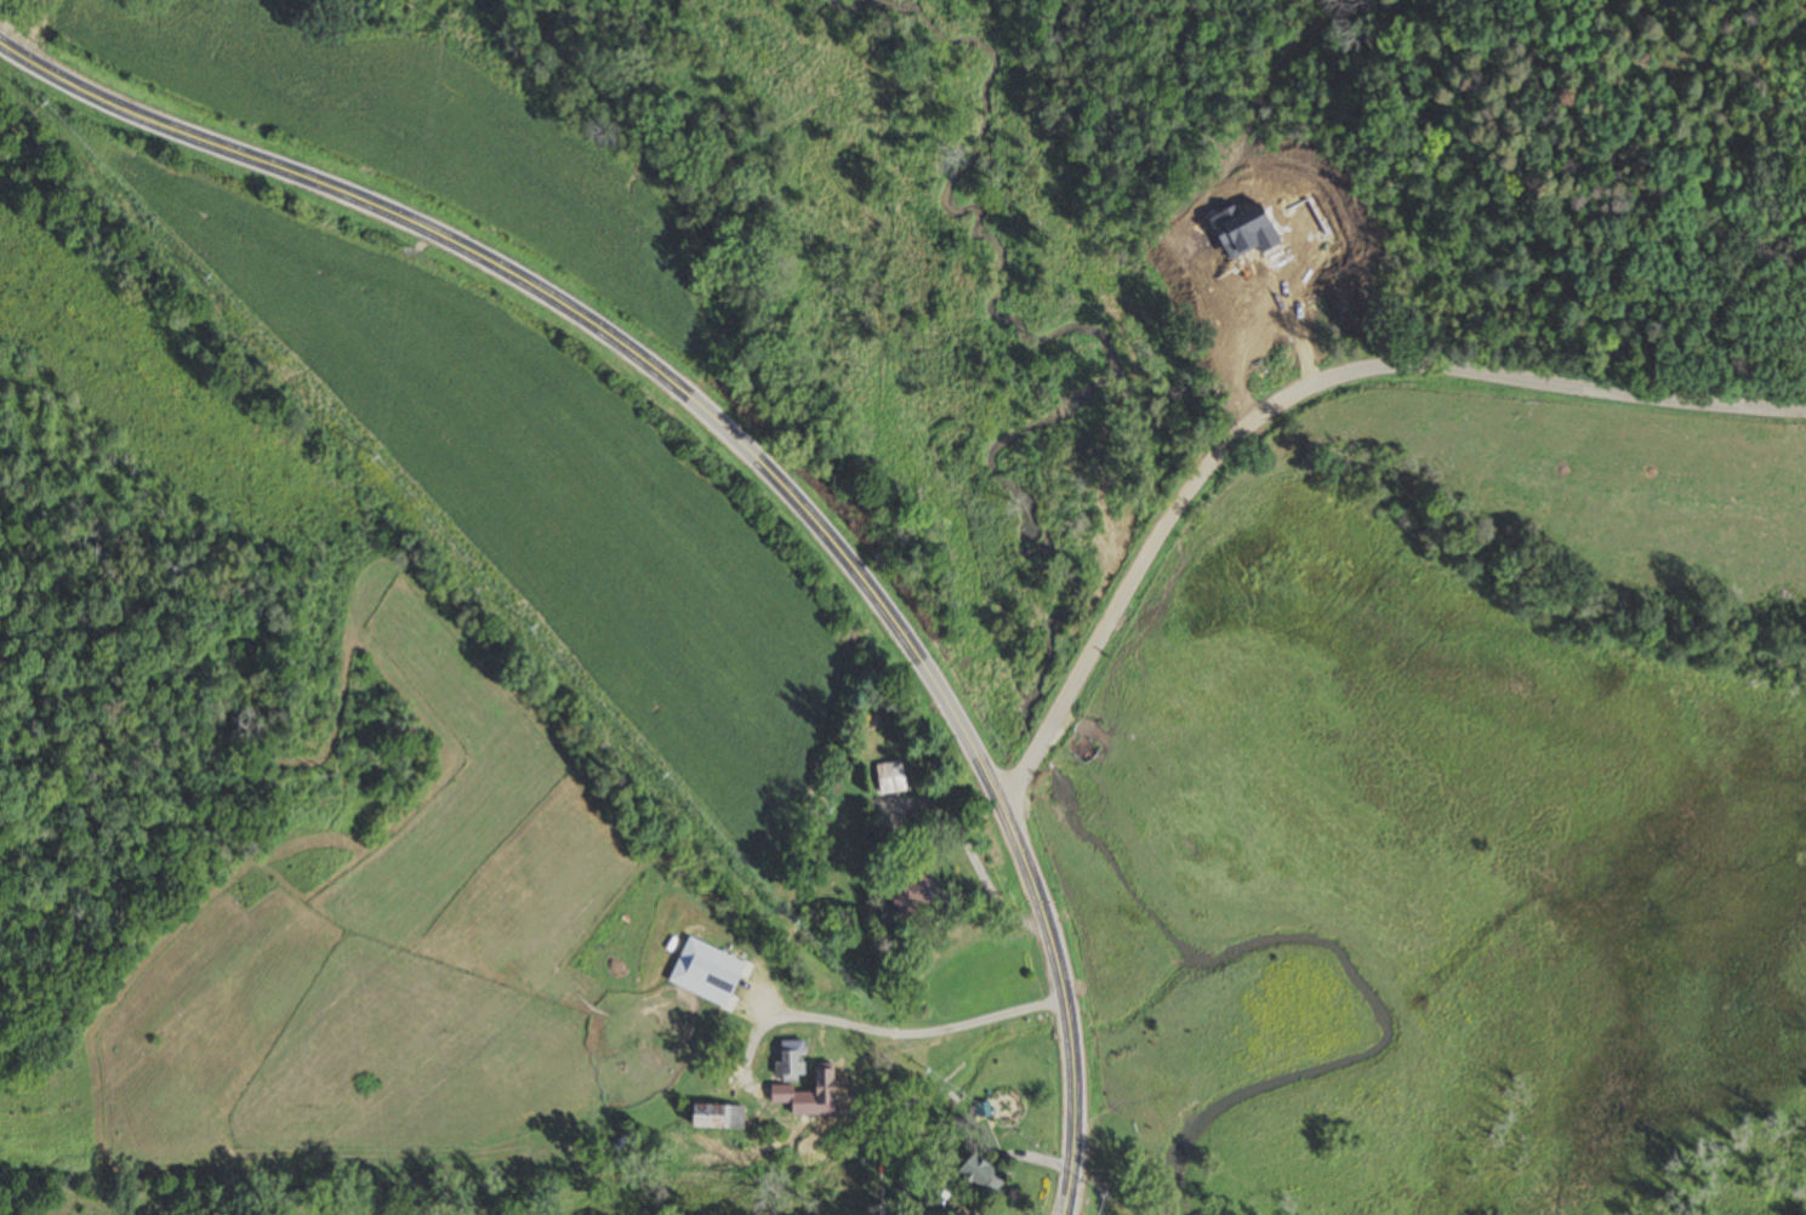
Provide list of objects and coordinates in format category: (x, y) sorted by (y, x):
road: (1314, 384)
road: (746, 454)
building: (888, 778)
road: (1010, 787)
building: (910, 897)
building: (788, 1062)
building: (713, 1118)
building: (976, 1176)

